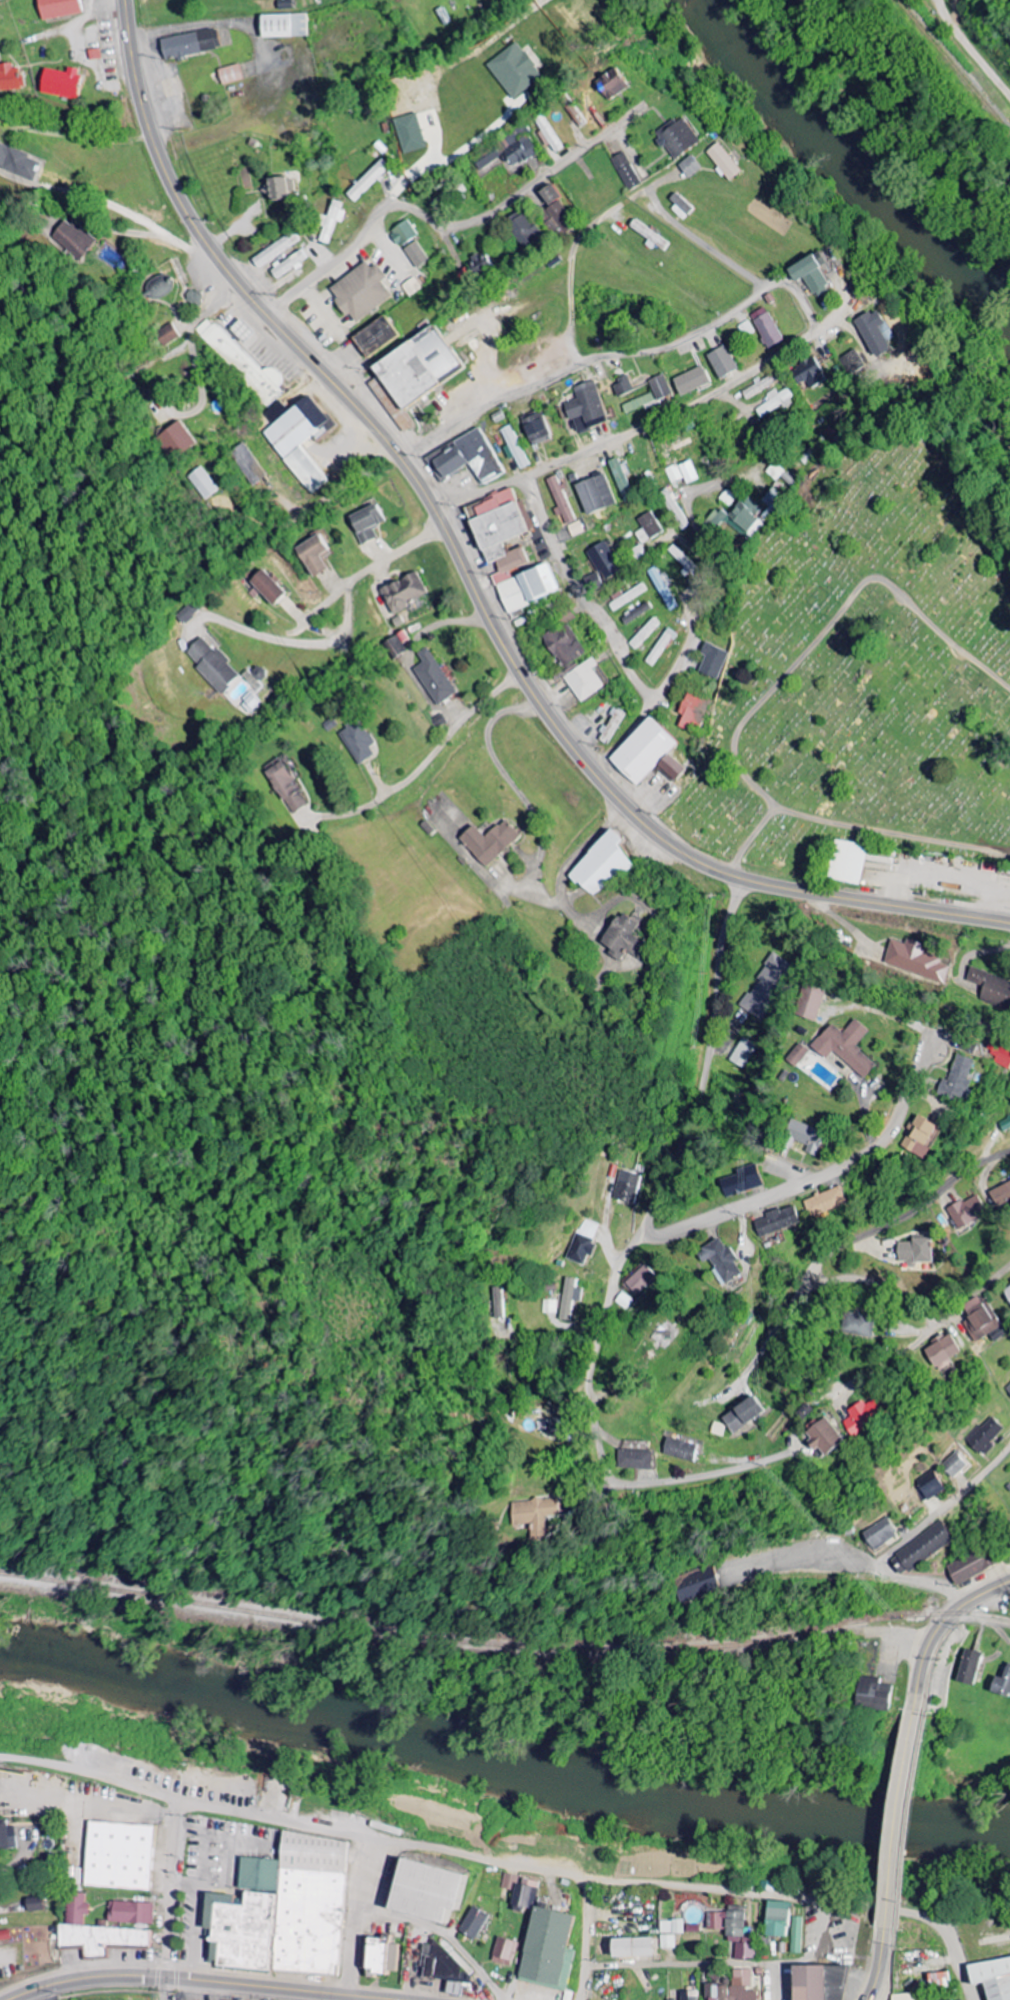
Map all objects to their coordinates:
building: (58, 9)
building: (284, 27)
building: (190, 45)
road: (971, 50)
railway: (957, 63)
building: (515, 71)
building: (230, 75)
building: (11, 79)
building: (61, 84)
building: (612, 84)
road: (489, 124)
building: (410, 133)
building: (678, 137)
building: (509, 153)
building: (724, 161)
building: (17, 162)
building: (690, 166)
river: (857, 166)
building: (626, 171)
building: (368, 181)
building: (281, 187)
building: (552, 195)
building: (680, 205)
building: (562, 218)
building: (331, 221)
road: (447, 223)
building: (524, 228)
building: (403, 233)
building: (649, 235)
building: (76, 239)
road: (581, 240)
building: (276, 250)
building: (416, 254)
building: (481, 261)
building: (289, 265)
building: (811, 273)
building: (411, 287)
building: (360, 291)
building: (194, 298)
building: (767, 327)
building: (875, 334)
building: (168, 335)
building: (375, 336)
road: (621, 353)
building: (723, 361)
building: (244, 363)
building: (416, 366)
building: (810, 374)
building: (692, 381)
building: (623, 385)
building: (761, 386)
building: (651, 396)
building: (775, 402)
building: (587, 408)
road: (672, 414)
building: (302, 430)
building: (537, 430)
building: (177, 439)
building: (514, 448)
building: (468, 458)
building: (244, 460)
building: (682, 473)
building: (622, 479)
building: (205, 483)
building: (596, 494)
building: (561, 500)
building: (773, 500)
building: (675, 509)
building: (738, 516)
building: (367, 523)
building: (649, 528)
building: (510, 554)
building: (316, 556)
building: (603, 560)
building: (682, 560)
road: (469, 577)
building: (267, 587)
building: (664, 589)
building: (403, 592)
building: (628, 598)
building: (188, 613)
building: (637, 614)
road: (608, 631)
building: (645, 634)
building: (396, 645)
building: (565, 645)
building: (661, 648)
road: (808, 650)
road: (681, 660)
building: (712, 661)
building: (212, 665)
park: (862, 669)
building: (434, 678)
building: (584, 681)
building: (691, 712)
building: (612, 726)
building: (358, 742)
building: (647, 754)
road: (425, 763)
building: (287, 788)
road: (888, 833)
building: (489, 842)
building: (847, 862)
building: (602, 866)
building: (625, 938)
building: (915, 961)
building: (767, 986)
building: (992, 987)
building: (811, 1003)
building: (846, 1047)
building: (744, 1054)
building: (1000, 1054)
building: (799, 1055)
building: (958, 1079)
building: (1005, 1124)
building: (805, 1137)
building: (920, 1137)
road: (813, 1176)
building: (742, 1182)
building: (627, 1187)
building: (1000, 1194)
building: (827, 1202)
building: (778, 1221)
building: (584, 1242)
road: (845, 1244)
building: (914, 1251)
building: (721, 1261)
road: (613, 1265)
building: (641, 1280)
building: (1006, 1293)
building: (570, 1300)
building: (624, 1301)
building: (499, 1303)
building: (550, 1307)
building: (977, 1321)
building: (855, 1325)
building: (939, 1352)
building: (1008, 1389)
building: (742, 1415)
building: (859, 1417)
building: (718, 1430)
building: (986, 1436)
building: (822, 1438)
building: (680, 1450)
building: (636, 1460)
building: (956, 1465)
building: (931, 1487)
building: (534, 1513)
building: (881, 1534)
road: (912, 1535)
building: (923, 1549)
building: (973, 1566)
building: (699, 1585)
road: (941, 1629)
railway: (504, 1643)
building: (969, 1668)
building: (1002, 1684)
building: (876, 1694)
river: (499, 1772)
road: (910, 1821)
building: (7, 1837)
building: (118, 1855)
road: (505, 1863)
building: (426, 1890)
road: (172, 1900)
building: (34, 1905)
building: (283, 1909)
building: (131, 1913)
road: (358, 1916)
road: (420, 1916)
building: (777, 1918)
building: (474, 1923)
building: (679, 1926)
building: (95, 1932)
building: (734, 1932)
building: (796, 1935)
building: (4, 1936)
building: (541, 1937)
road: (588, 1939)
building: (669, 1942)
building: (631, 1947)
building: (504, 1951)
building: (380, 1954)
road: (676, 1964)
road: (881, 1965)
road: (488, 1966)
building: (992, 1977)
building: (938, 1980)
road: (206, 1981)
building: (818, 1982)
building: (733, 1988)
building: (689, 1995)
building: (904, 1997)

